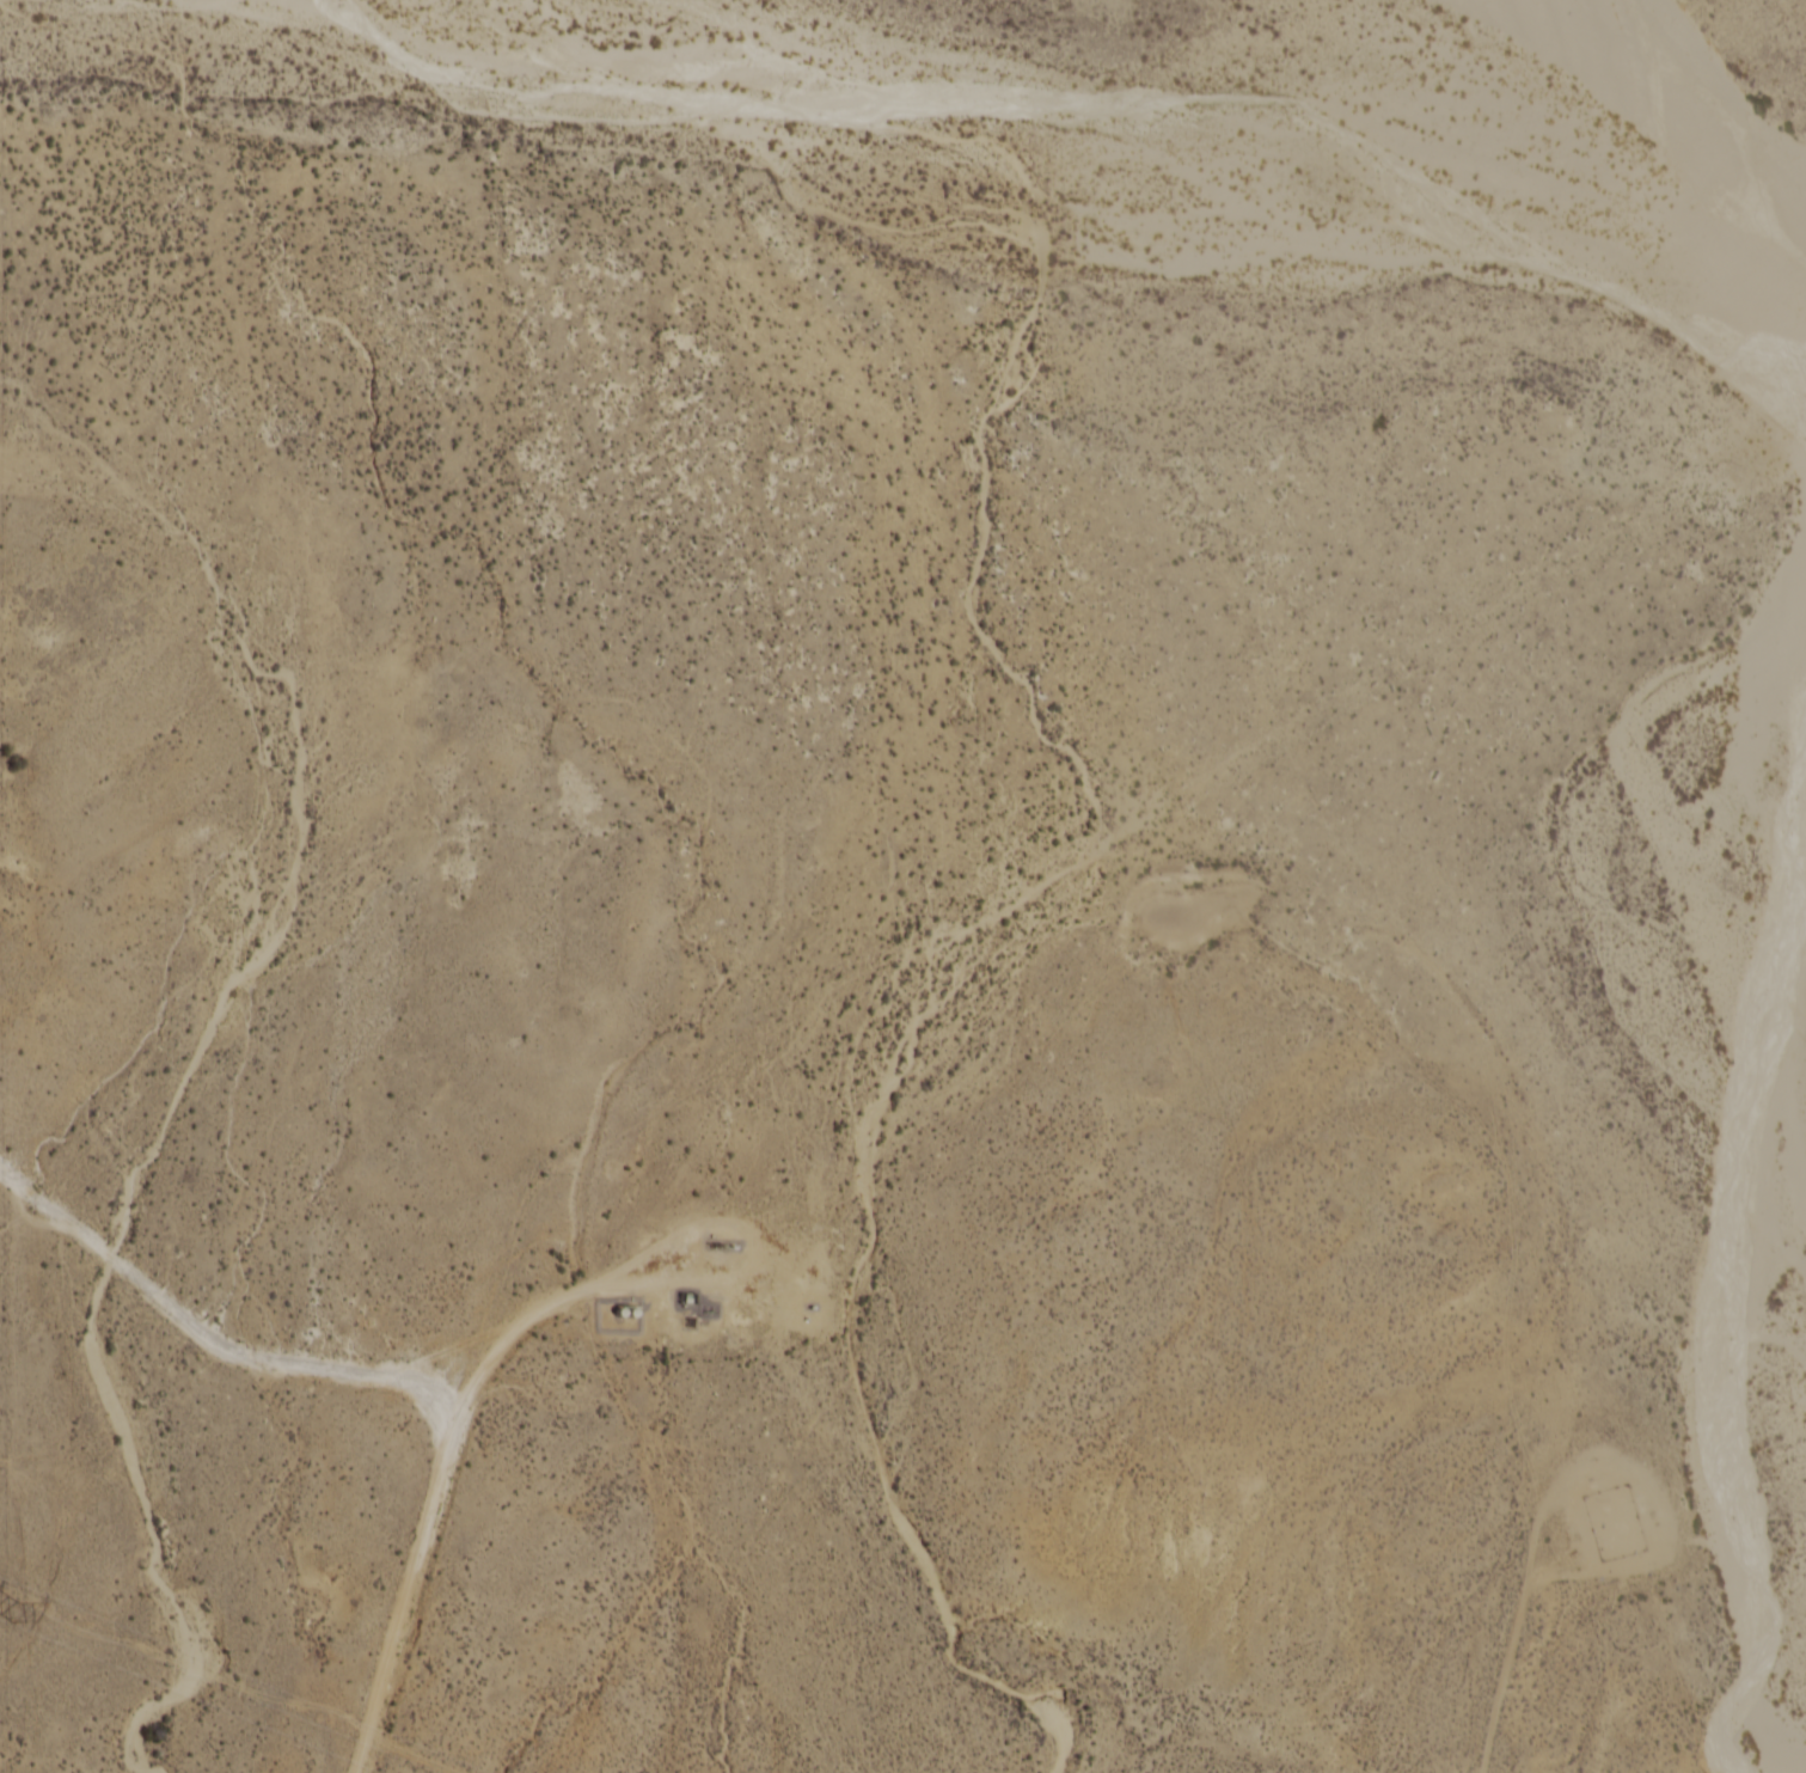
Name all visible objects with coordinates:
river: (1694, 106)
river: (1634, 952)
road: (449, 1433)
power tower: (18, 1614)
river: (1790, 1714)
road: (360, 1754)

